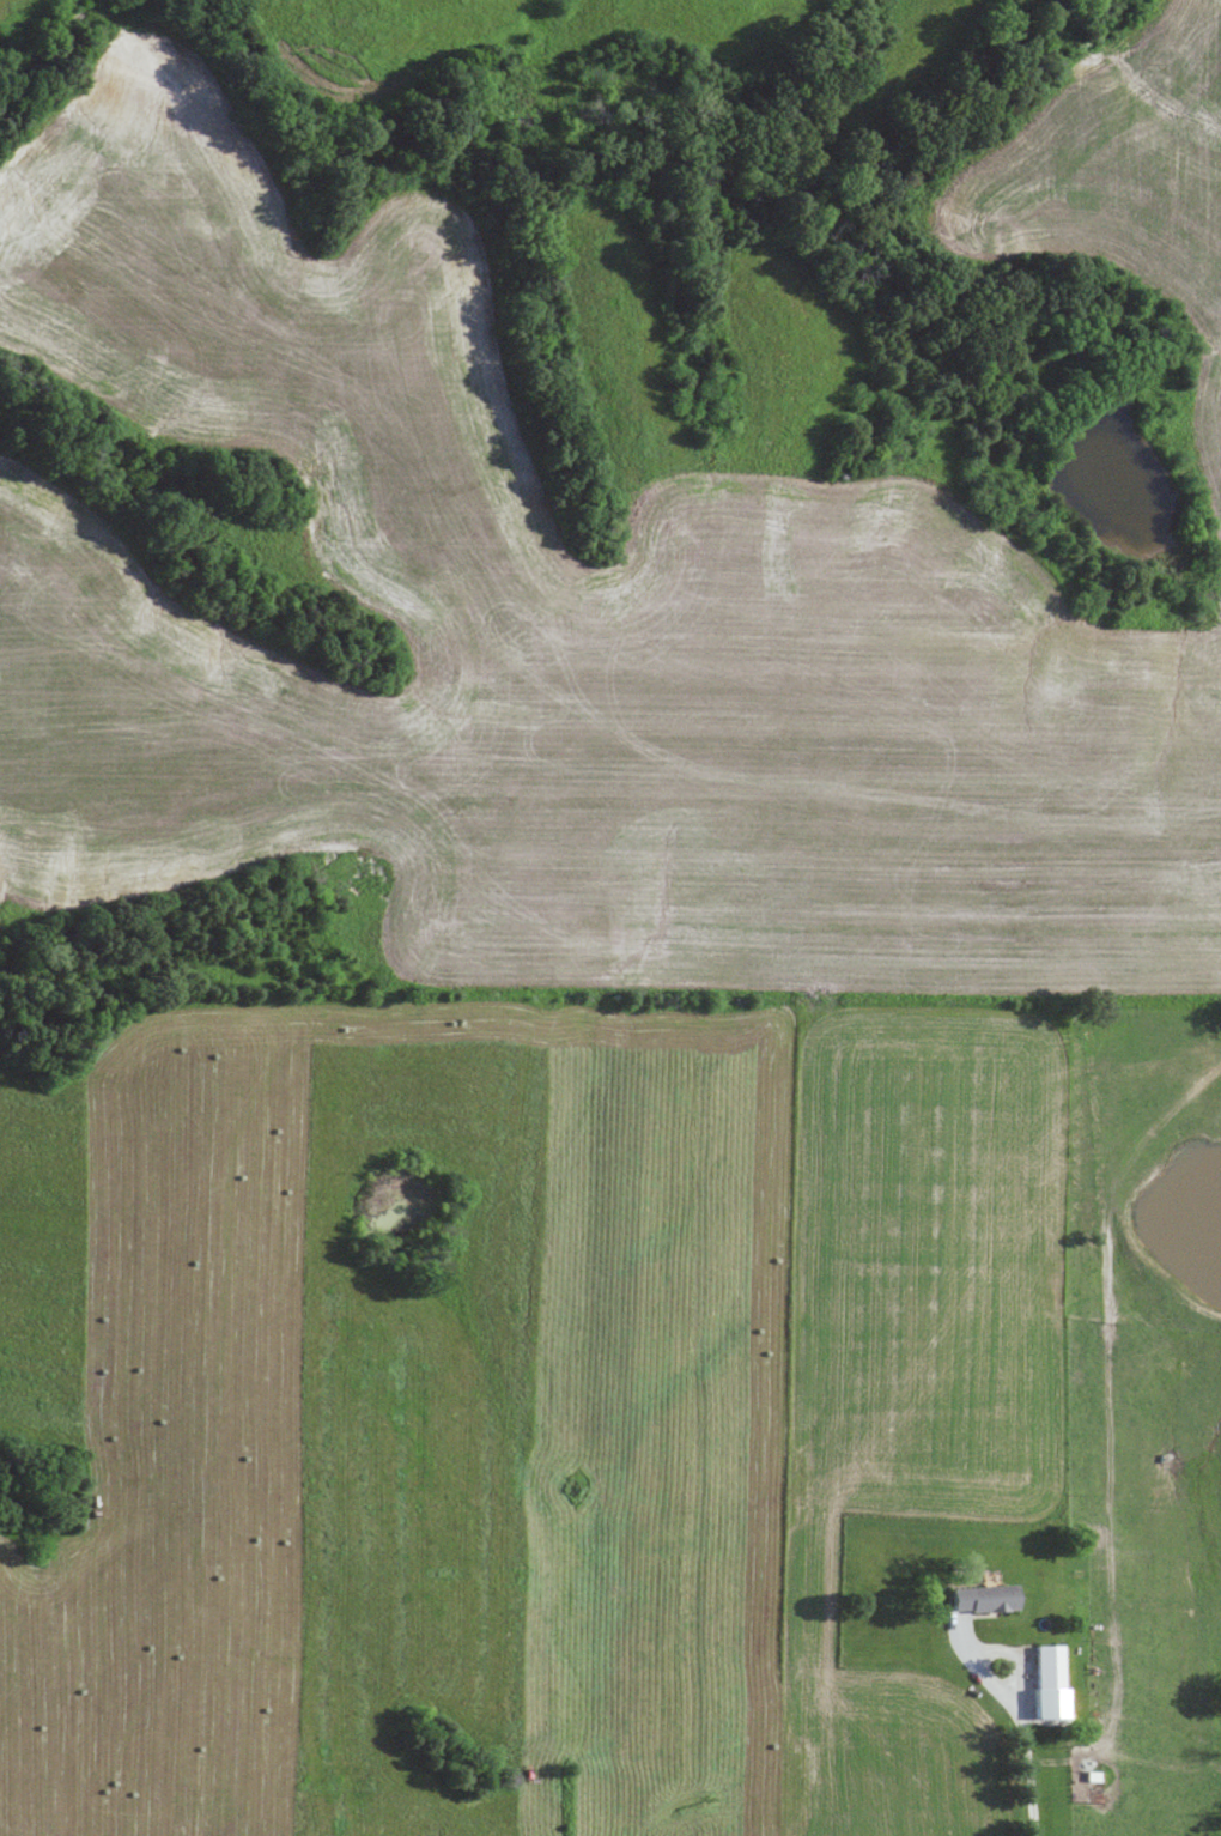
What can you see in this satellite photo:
building: (979, 1598)
building: (1041, 1666)

